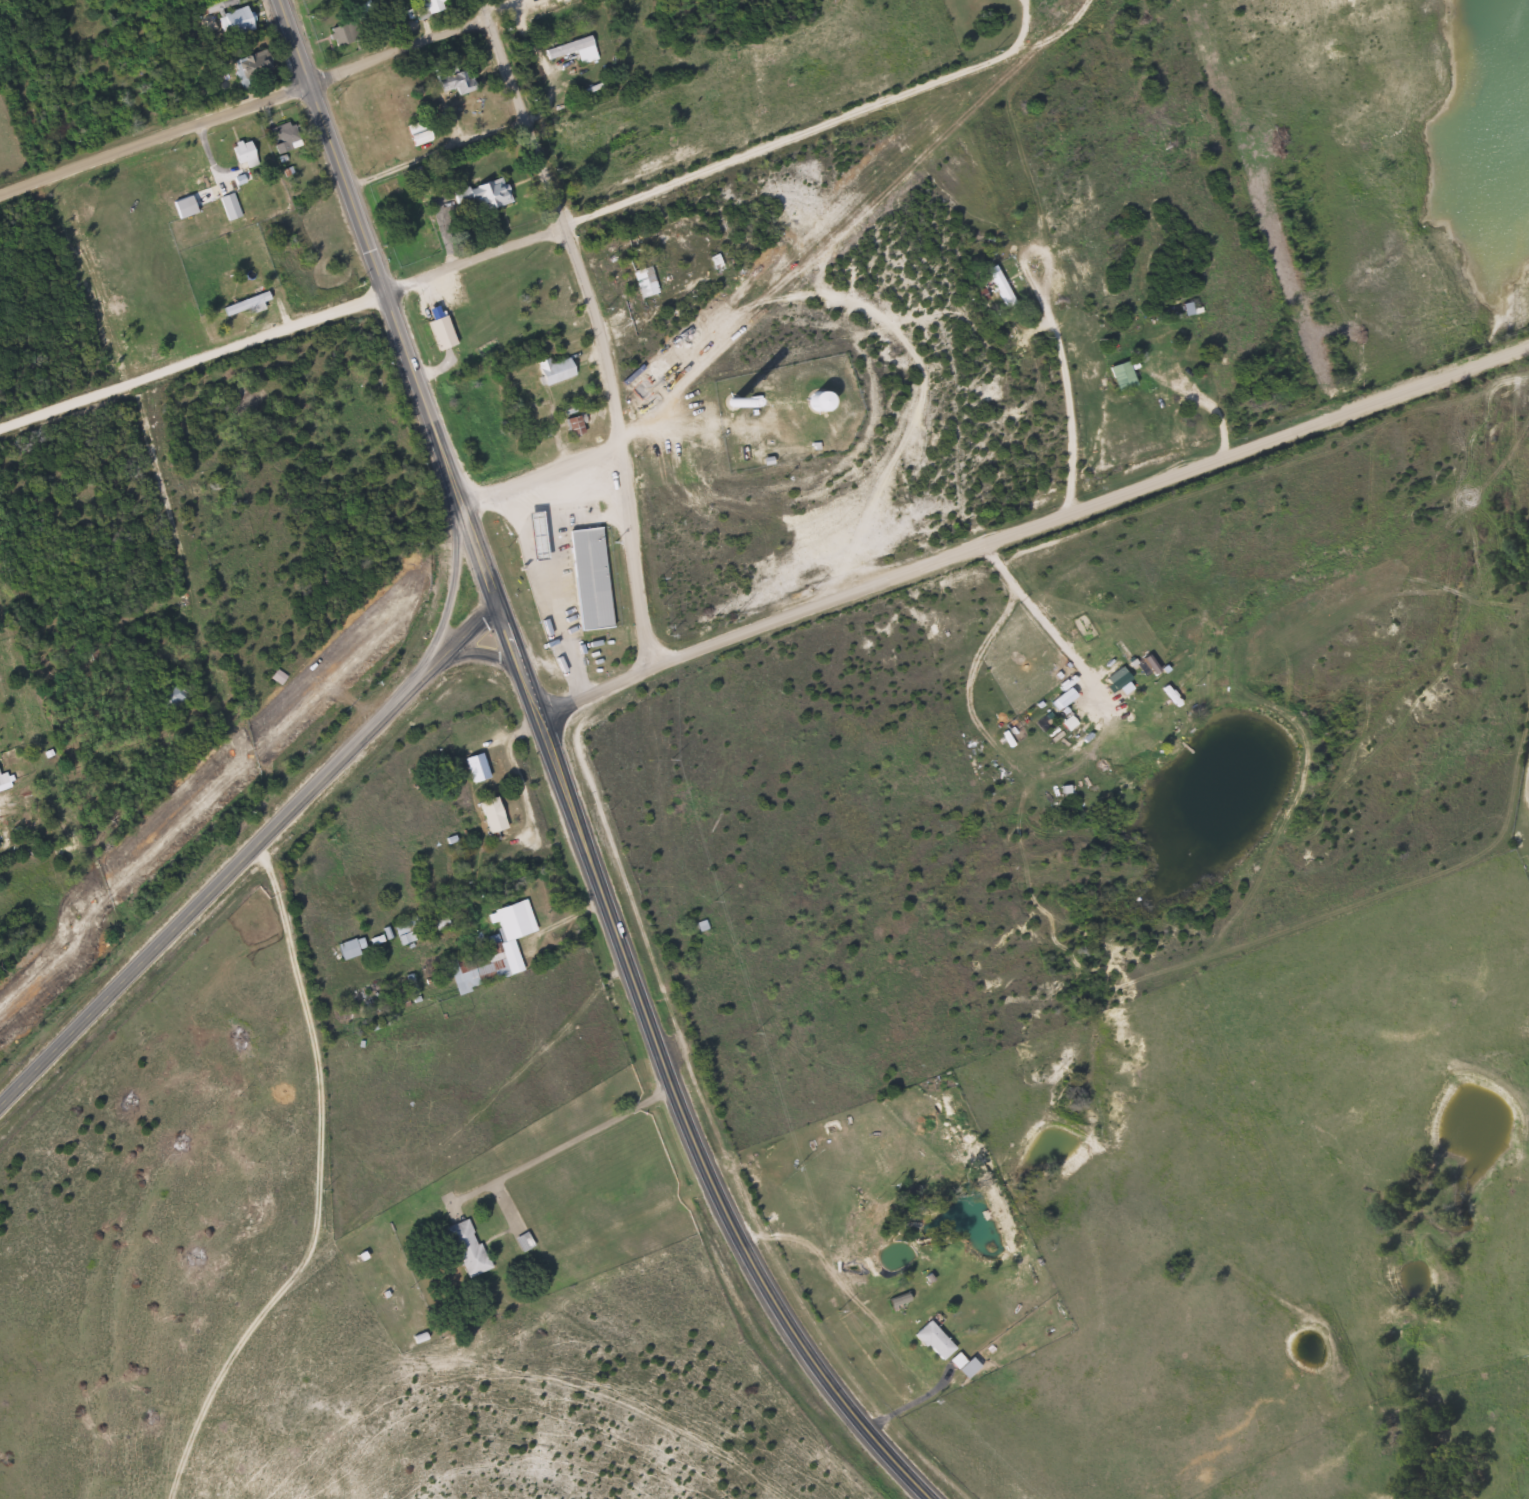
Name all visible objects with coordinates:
building: (426, 6)
building: (242, 22)
building: (341, 31)
building: (571, 48)
building: (256, 69)
building: (450, 77)
road: (244, 108)
building: (413, 131)
building: (282, 135)
building: (240, 154)
building: (479, 192)
building: (640, 280)
building: (993, 282)
road: (392, 300)
building: (244, 303)
road: (350, 306)
road: (604, 321)
building: (436, 330)
building: (549, 369)
building: (1116, 375)
building: (813, 400)
road: (145, 401)
water tower: (818, 404)
water tower: (789, 405)
road: (62, 418)
building: (570, 425)
road: (16, 434)
road: (541, 468)
road: (1033, 528)
building: (586, 576)
gas station: (564, 577)
road: (518, 660)
building: (276, 675)
building: (473, 759)
building: (491, 812)
park: (1523, 816)
road: (247, 853)
building: (513, 918)
building: (405, 925)
building: (346, 942)
road: (692, 1132)
road: (514, 1200)
road: (370, 1202)
building: (854, 1217)
building: (462, 1247)
building: (929, 1340)

